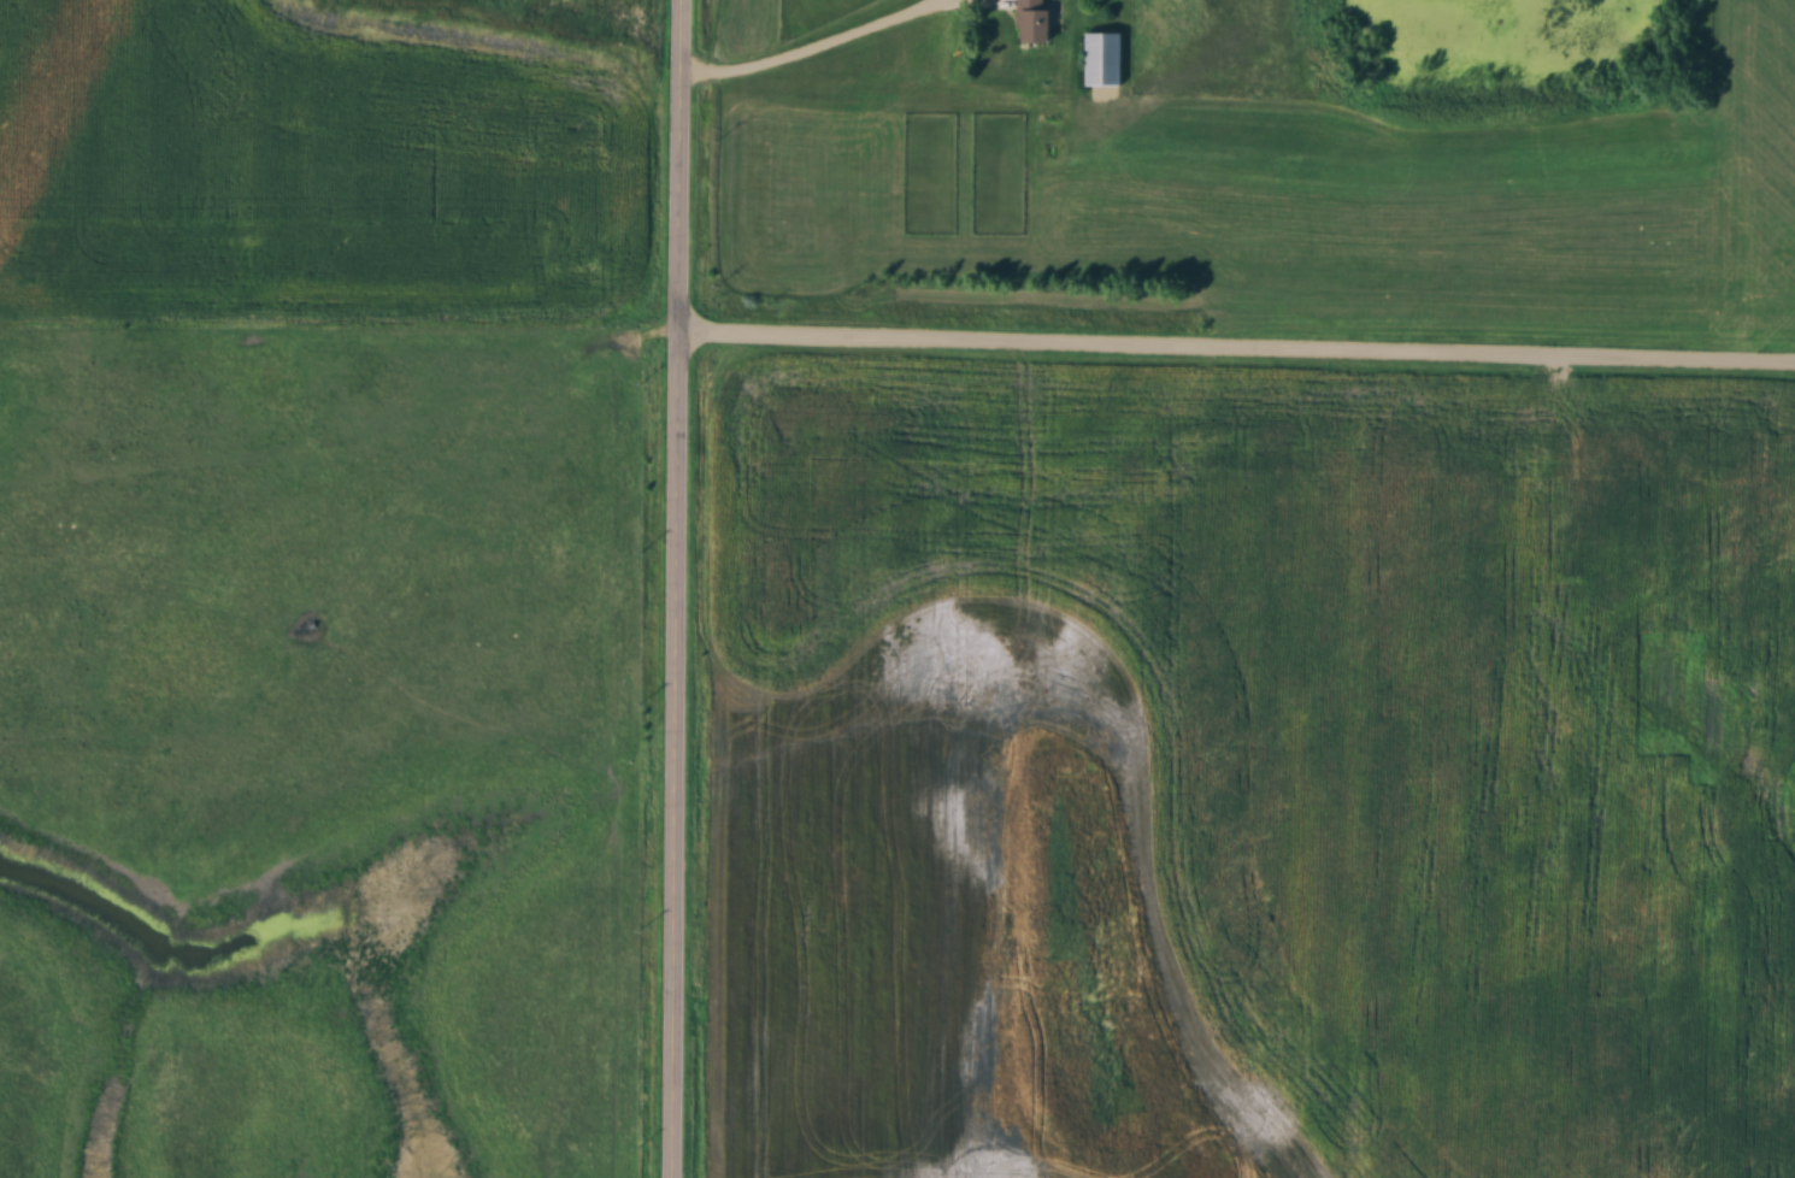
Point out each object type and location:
building: (1035, 20)
road: (812, 48)
building: (1105, 59)
road: (897, 336)
road: (683, 589)

